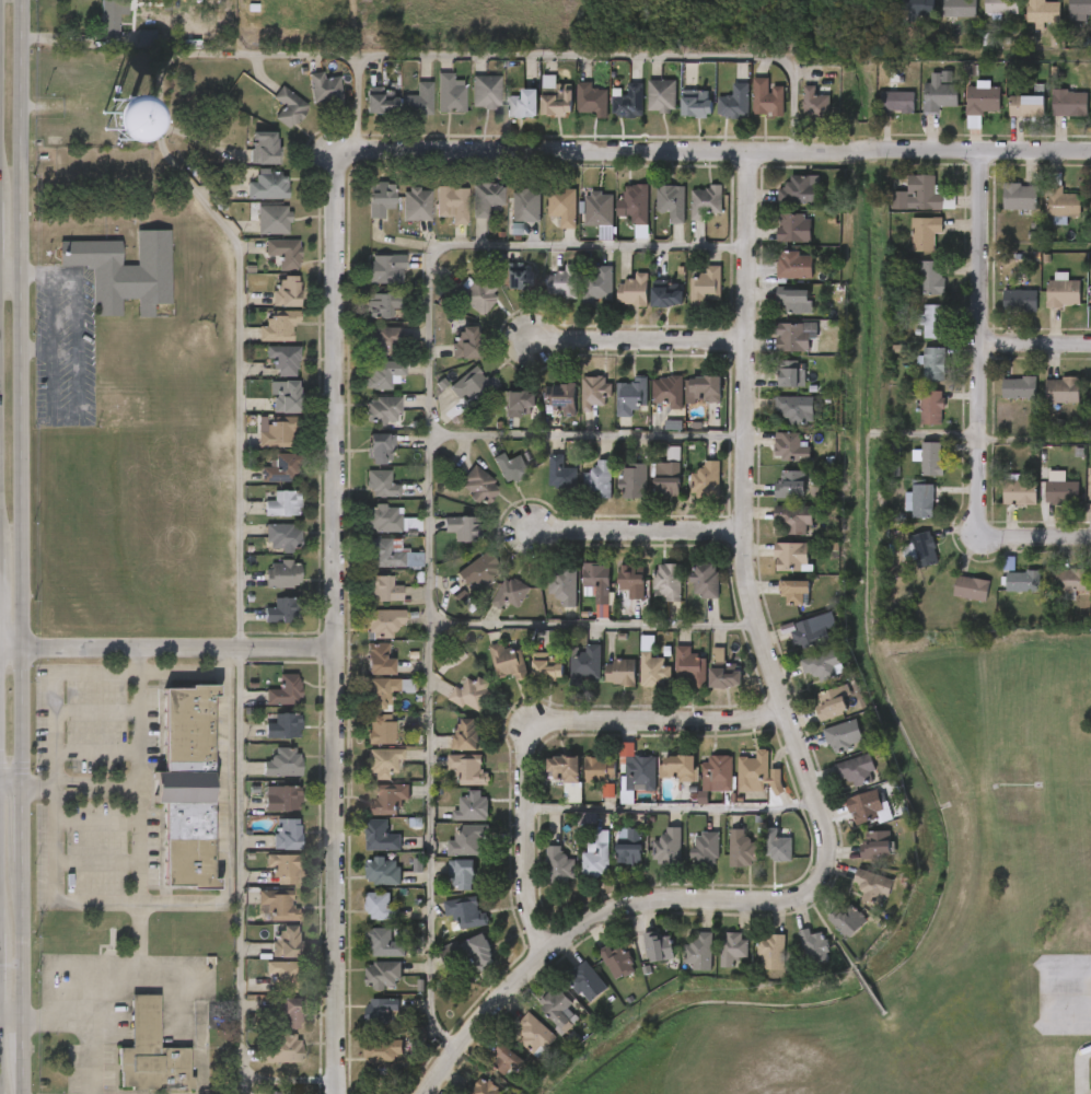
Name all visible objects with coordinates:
building: (1000, 7)
building: (917, 8)
building: (957, 8)
building: (1080, 9)
building: (1042, 11)
building: (983, 18)
building: (901, 19)
building: (940, 20)
building: (1066, 20)
building: (1021, 22)
building: (128, 51)
road: (211, 55)
building: (324, 89)
building: (940, 91)
building: (485, 92)
building: (450, 93)
building: (662, 95)
building: (767, 97)
building: (555, 98)
building: (983, 98)
building: (591, 100)
building: (418, 101)
building: (898, 101)
building: (306, 102)
road: (358, 102)
building: (381, 102)
building: (629, 102)
building: (735, 102)
building: (1069, 102)
building: (523, 104)
building: (815, 104)
building: (467, 105)
building: (698, 106)
building: (920, 106)
building: (1026, 106)
building: (288, 107)
building: (431, 107)
building: (643, 109)
building: (537, 112)
building: (748, 112)
building: (963, 113)
building: (362, 114)
building: (572, 114)
building: (399, 115)
building: (611, 116)
building: (879, 116)
building: (677, 117)
building: (716, 117)
building: (1052, 117)
building: (797, 118)
building: (1083, 118)
building: (504, 119)
building: (1008, 120)
building: (270, 121)
water tower: (115, 127)
building: (107, 130)
building: (264, 148)
road: (711, 153)
building: (246, 161)
building: (268, 186)
building: (797, 191)
building: (925, 193)
building: (1020, 196)
building: (486, 198)
building: (380, 199)
building: (249, 200)
building: (671, 201)
building: (706, 202)
building: (1063, 202)
building: (416, 203)
building: (452, 203)
building: (635, 203)
building: (779, 205)
building: (524, 206)
building: (561, 206)
building: (901, 208)
building: (597, 210)
building: (1001, 211)
building: (362, 212)
building: (467, 212)
building: (653, 216)
building: (687, 216)
building: (1082, 216)
building: (434, 218)
building: (398, 219)
building: (272, 220)
building: (507, 220)
building: (1044, 220)
building: (544, 221)
building: (579, 223)
building: (794, 229)
building: (926, 232)
building: (255, 233)
building: (776, 242)
road: (7, 246)
building: (906, 247)
building: (283, 253)
building: (793, 266)
building: (266, 267)
building: (383, 267)
building: (932, 278)
building: (520, 279)
building: (776, 279)
building: (367, 283)
building: (562, 283)
building: (597, 283)
building: (106, 284)
building: (706, 286)
building: (501, 290)
building: (634, 290)
building: (287, 291)
building: (912, 291)
building: (1066, 291)
building: (476, 295)
building: (668, 295)
building: (544, 296)
building: (579, 298)
building: (1021, 300)
building: (687, 301)
building: (793, 301)
building: (382, 304)
building: (268, 305)
building: (615, 305)
building: (1044, 305)
building: (457, 307)
building: (648, 307)
building: (1083, 312)
building: (776, 314)
building: (1001, 314)
building: (363, 318)
building: (935, 321)
building: (278, 326)
building: (915, 335)
building: (793, 337)
road: (982, 337)
building: (260, 339)
building: (383, 341)
road: (639, 341)
building: (465, 342)
road: (1036, 345)
building: (776, 350)
building: (367, 354)
building: (445, 357)
building: (282, 359)
building: (935, 363)
building: (266, 373)
building: (382, 374)
building: (914, 377)
building: (788, 379)
building: (474, 386)
building: (365, 387)
building: (1020, 387)
building: (770, 388)
building: (706, 389)
building: (1063, 389)
road: (22, 391)
building: (596, 393)
building: (666, 393)
building: (631, 396)
building: (287, 397)
building: (454, 399)
building: (562, 400)
building: (1000, 401)
building: (686, 403)
building: (521, 404)
building: (649, 405)
building: (1043, 405)
building: (1081, 405)
building: (574, 406)
building: (933, 406)
building: (613, 409)
building: (796, 409)
building: (268, 410)
building: (382, 411)
building: (543, 411)
building: (500, 417)
building: (913, 421)
building: (777, 422)
building: (364, 423)
building: (277, 435)
road: (588, 437)
road: (1036, 440)
building: (258, 445)
building: (787, 446)
building: (380, 450)
building: (932, 458)
building: (362, 461)
building: (771, 461)
building: (510, 467)
building: (280, 468)
building: (560, 473)
building: (912, 473)
building: (666, 480)
building: (706, 480)
building: (492, 481)
building: (597, 481)
building: (634, 481)
building: (262, 482)
building: (791, 484)
building: (380, 485)
building: (478, 485)
building: (542, 487)
building: (1020, 491)
building: (1063, 491)
building: (649, 493)
building: (1090, 493)
building: (580, 494)
building: (615, 494)
building: (687, 494)
building: (363, 497)
road: (429, 498)
building: (773, 498)
building: (461, 500)
building: (924, 500)
building: (1042, 502)
building: (282, 503)
building: (1001, 507)
building: (1082, 508)
building: (901, 515)
building: (265, 517)
building: (381, 519)
building: (794, 520)
building: (462, 528)
building: (364, 532)
road: (638, 532)
building: (776, 532)
road: (1034, 536)
building: (282, 537)
building: (441, 542)
building: (924, 549)
building: (266, 551)
building: (382, 554)
building: (792, 557)
building: (905, 562)
building: (373, 569)
building: (480, 570)
building: (773, 570)
building: (282, 574)
building: (990, 577)
building: (596, 578)
building: (1072, 580)
building: (668, 581)
building: (706, 581)
building: (1023, 581)
building: (632, 582)
building: (461, 584)
building: (266, 587)
building: (564, 587)
building: (973, 587)
building: (381, 589)
building: (509, 593)
building: (796, 593)
building: (1052, 593)
building: (614, 594)
building: (686, 594)
building: (650, 595)
building: (1005, 595)
building: (1084, 596)
building: (545, 600)
building: (952, 602)
building: (364, 603)
building: (777, 606)
building: (491, 607)
building: (281, 610)
building: (382, 621)
building: (264, 624)
road: (593, 625)
road: (338, 627)
building: (813, 630)
building: (365, 636)
building: (793, 644)
road: (170, 649)
building: (379, 659)
building: (507, 662)
building: (585, 664)
building: (689, 666)
building: (821, 667)
building: (549, 668)
building: (653, 668)
road: (196, 672)
building: (620, 672)
building: (360, 673)
building: (726, 675)
building: (489, 676)
building: (567, 678)
building: (634, 679)
building: (803, 679)
building: (527, 680)
building: (671, 682)
building: (705, 684)
building: (602, 686)
road: (55, 688)
building: (283, 690)
building: (381, 693)
building: (471, 693)
building: (834, 702)
building: (266, 705)
building: (362, 705)
building: (453, 708)
building: (813, 718)
road: (546, 723)
building: (283, 725)
building: (381, 732)
building: (464, 735)
building: (844, 736)
building: (266, 740)
building: (362, 743)
building: (446, 749)
building: (825, 749)
road: (800, 758)
building: (382, 761)
building: (282, 763)
building: (677, 768)
building: (467, 769)
building: (564, 769)
building: (855, 769)
road: (142, 771)
building: (599, 771)
building: (641, 773)
building: (717, 773)
building: (754, 773)
building: (365, 776)
building: (265, 777)
road: (12, 782)
building: (450, 782)
building: (582, 782)
building: (619, 782)
building: (661, 782)
building: (837, 783)
building: (548, 784)
building: (186, 787)
building: (740, 788)
building: (697, 789)
building: (282, 799)
building: (386, 800)
building: (471, 806)
building: (869, 807)
road: (671, 810)
building: (264, 812)
building: (370, 812)
building: (454, 821)
building: (850, 822)
road: (228, 826)
road: (23, 828)
building: (287, 835)
building: (380, 837)
building: (466, 840)
building: (877, 845)
building: (268, 847)
building: (630, 847)
building: (666, 847)
building: (778, 847)
building: (705, 848)
building: (742, 849)
building: (362, 850)
building: (450, 854)
building: (595, 856)
building: (858, 859)
building: (611, 860)
building: (758, 860)
building: (650, 861)
building: (687, 862)
building: (723, 863)
building: (558, 866)
building: (282, 868)
building: (578, 870)
building: (382, 871)
building: (462, 875)
building: (541, 881)
building: (265, 882)
building: (363, 885)
building: (444, 887)
building: (871, 887)
building: (855, 899)
road: (103, 901)
building: (277, 904)
building: (378, 906)
road: (243, 910)
building: (464, 913)
building: (258, 919)
building: (848, 919)
building: (362, 920)
building: (446, 927)
building: (829, 934)
building: (285, 942)
building: (383, 943)
road: (23, 945)
building: (813, 946)
building: (658, 947)
building: (733, 947)
building: (469, 952)
building: (771, 952)
building: (699, 953)
building: (267, 956)
building: (365, 957)
building: (796, 959)
building: (639, 961)
building: (617, 962)
building: (715, 962)
building: (753, 964)
building: (452, 965)
building: (681, 966)
road: (98, 975)
building: (283, 975)
building: (600, 975)
building: (382, 976)
building: (587, 982)
building: (264, 984)
building: (364, 988)
building: (568, 996)
building: (558, 1008)
building: (380, 1010)
building: (291, 1014)
road: (11, 1016)
building: (541, 1023)
building: (362, 1024)
building: (269, 1026)
park: (797, 1036)
road: (22, 1046)
building: (515, 1047)
building: (281, 1048)
building: (383, 1050)
building: (151, 1051)
road: (97, 1056)
park: (802, 1056)
building: (264, 1061)
building: (365, 1066)
building: (489, 1074)
road: (22, 1084)
building: (485, 1087)
building: (464, 1092)
building: (279, 1093)

